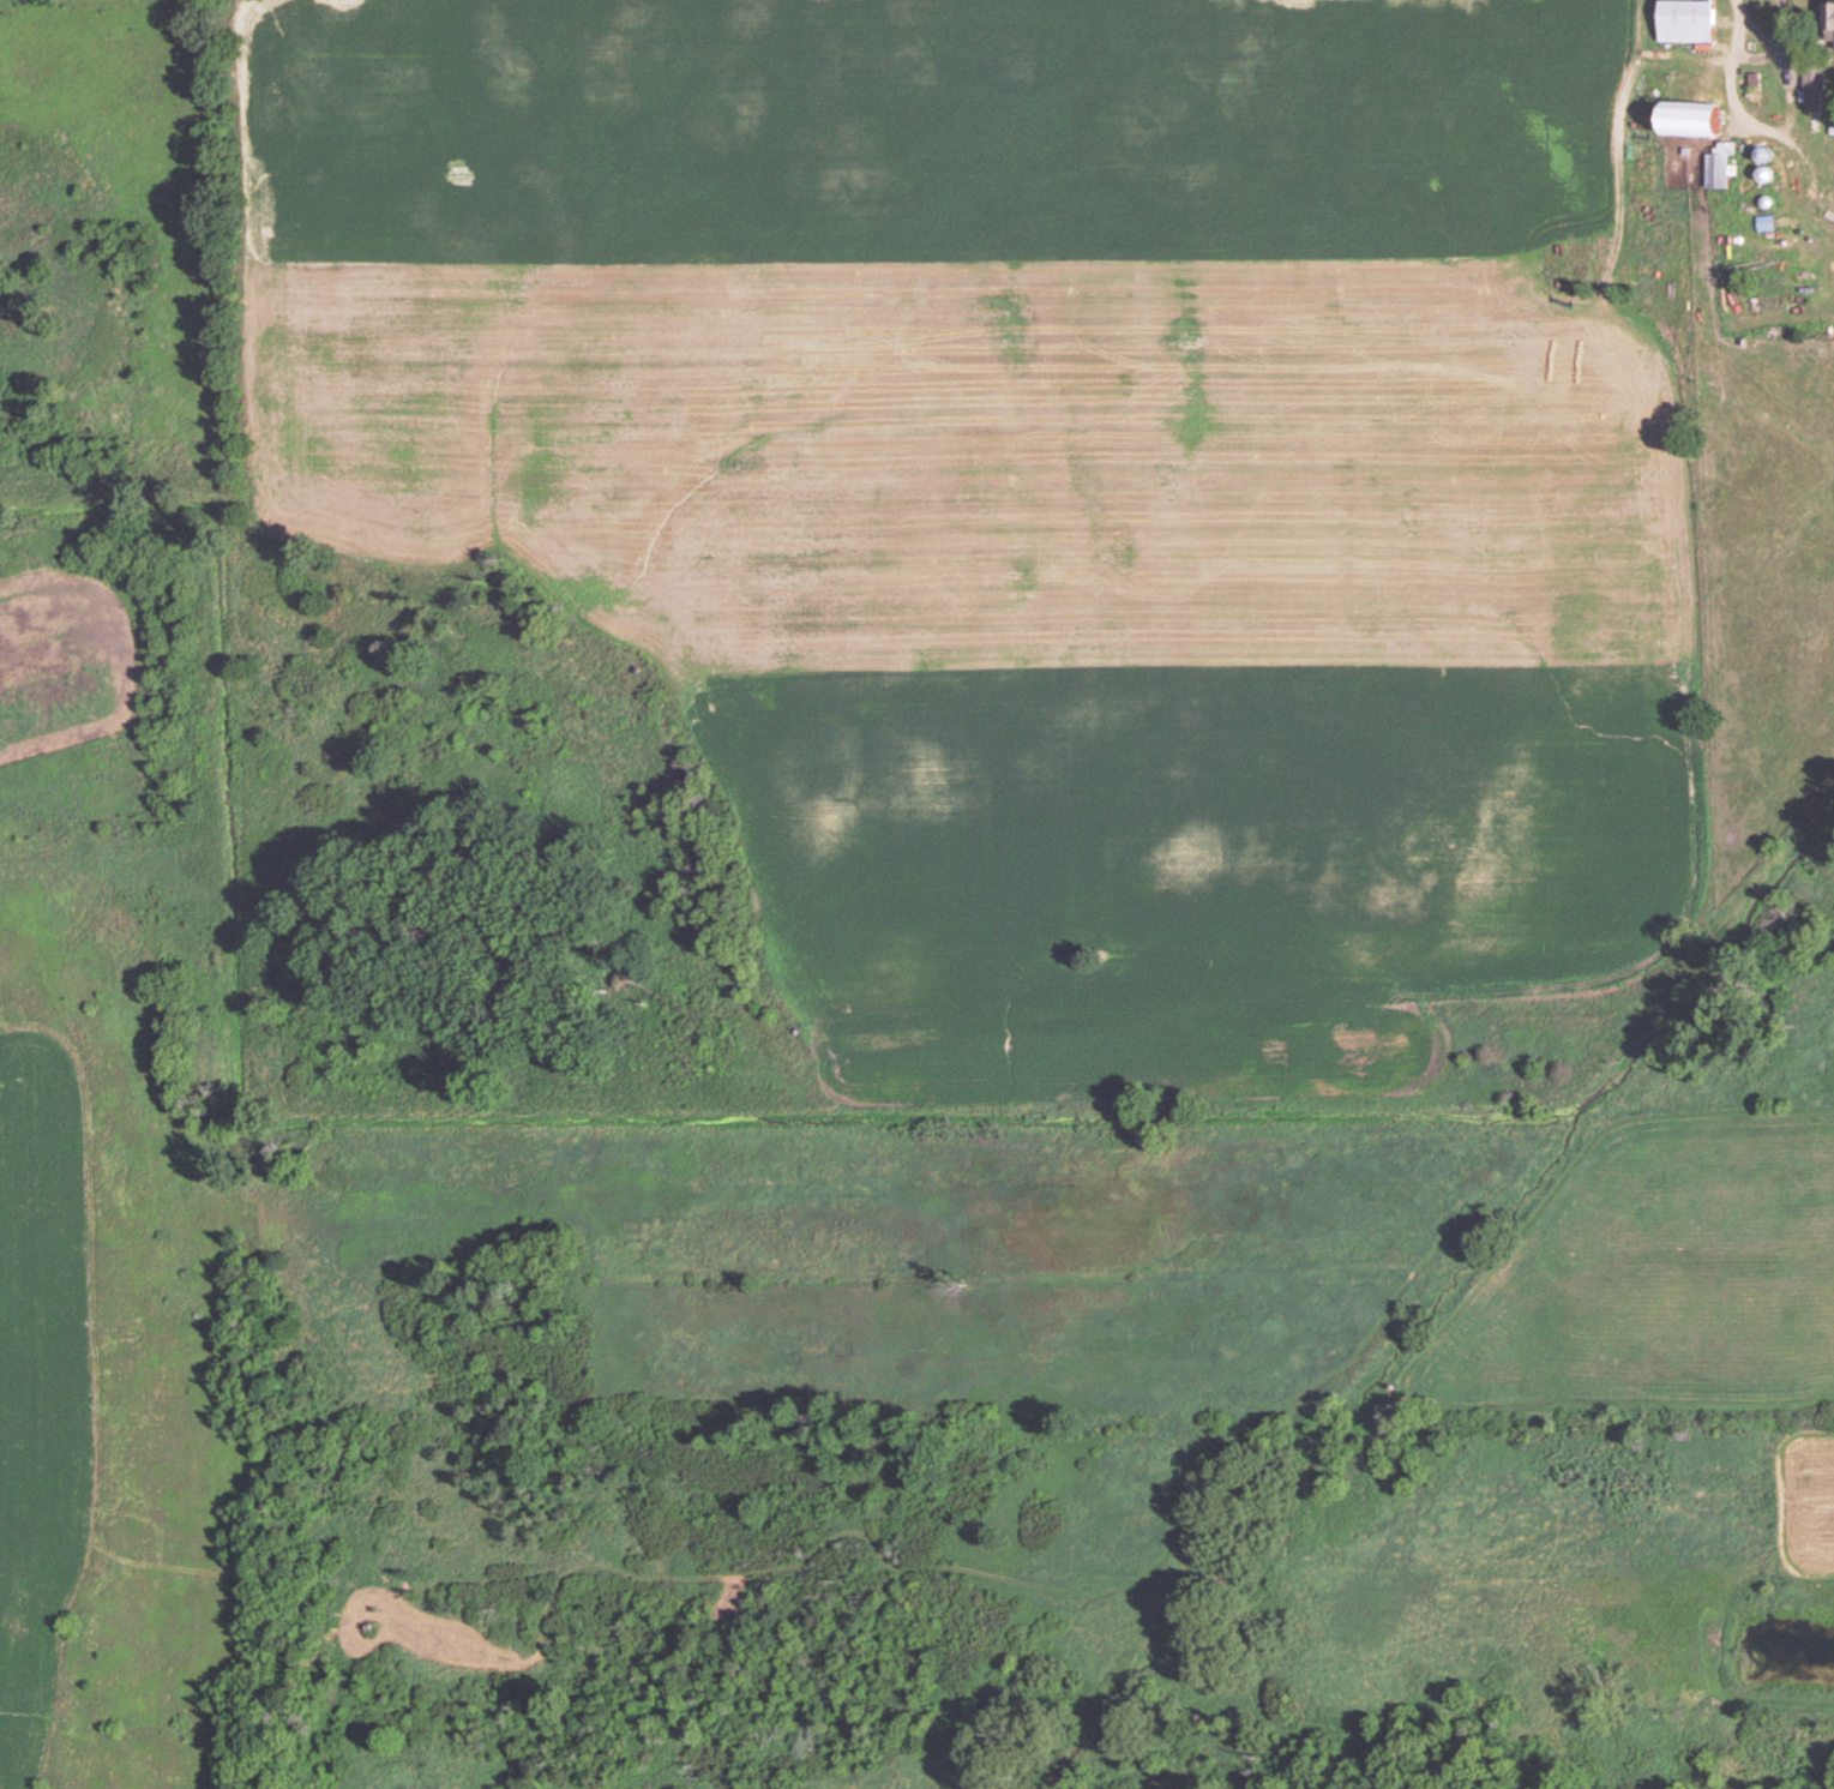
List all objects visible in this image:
road: (1739, 12)
building: (1680, 22)
building: (1826, 26)
building: (1810, 86)
building: (1683, 119)
road: (1770, 130)
building: (1715, 167)
building: (1762, 224)

